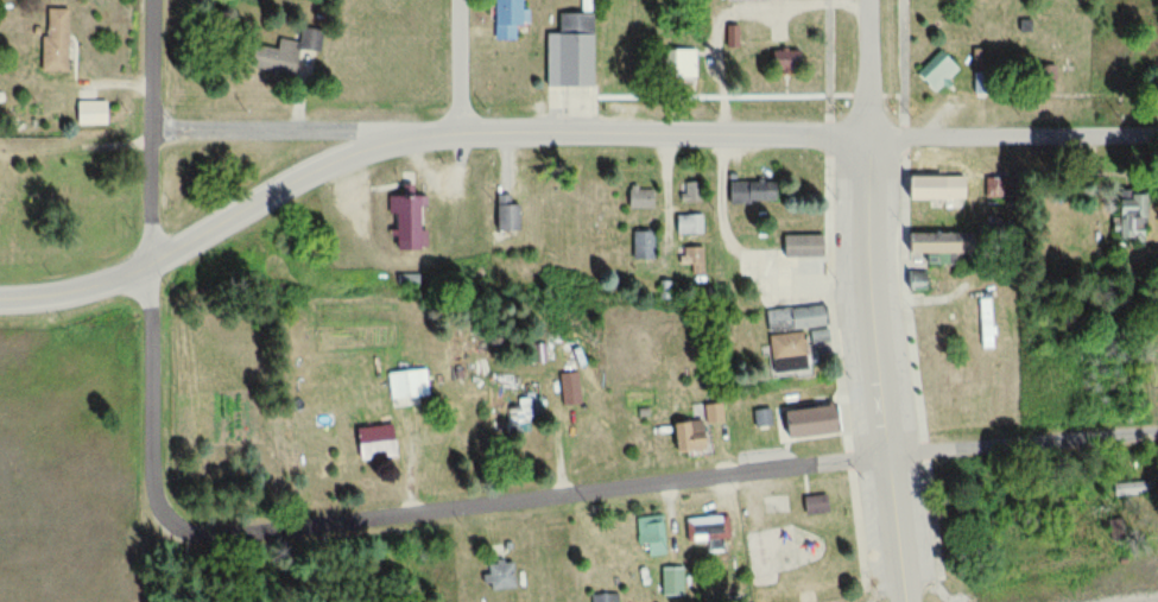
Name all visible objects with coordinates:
building: (502, 20)
building: (729, 36)
building: (59, 38)
building: (567, 50)
building: (290, 51)
building: (779, 61)
road: (460, 64)
building: (677, 64)
road: (866, 69)
building: (934, 71)
building: (1043, 75)
building: (99, 110)
road: (280, 129)
road: (635, 133)
road: (154, 134)
road: (1012, 135)
building: (1, 175)
building: (928, 189)
road: (273, 191)
building: (689, 192)
building: (743, 192)
building: (635, 198)
building: (500, 215)
building: (413, 216)
building: (1124, 220)
building: (685, 224)
building: (926, 242)
building: (638, 246)
building: (798, 246)
building: (691, 260)
road: (76, 290)
road: (868, 297)
building: (787, 319)
building: (981, 323)
building: (814, 337)
building: (780, 353)
building: (411, 381)
building: (572, 386)
building: (760, 418)
building: (799, 423)
building: (691, 431)
building: (380, 439)
road: (1020, 443)
building: (1125, 489)
building: (810, 506)
road: (394, 515)
road: (893, 528)
building: (704, 531)
building: (647, 537)
park: (797, 538)
building: (502, 574)
building: (670, 583)
building: (608, 597)

